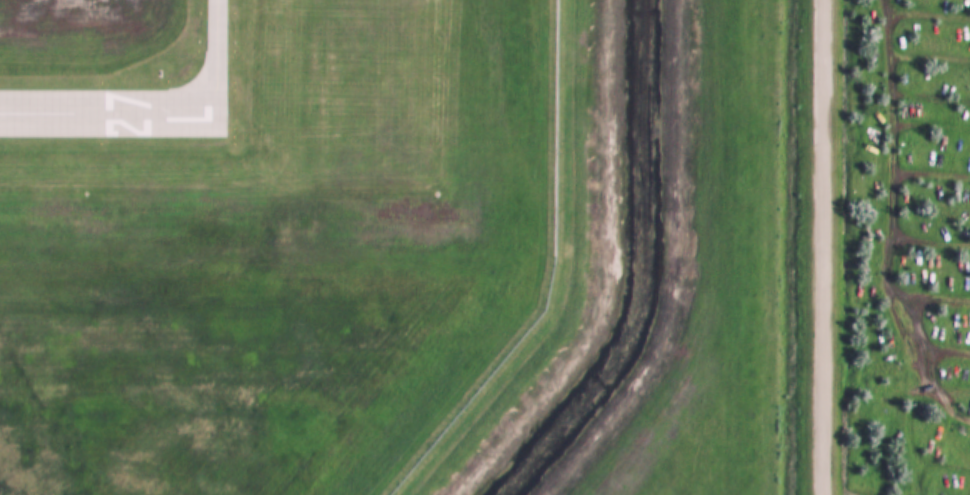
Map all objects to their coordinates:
airport taxiway: (218, 56)
airport runway: (109, 112)
airport: (264, 235)
road: (827, 247)

